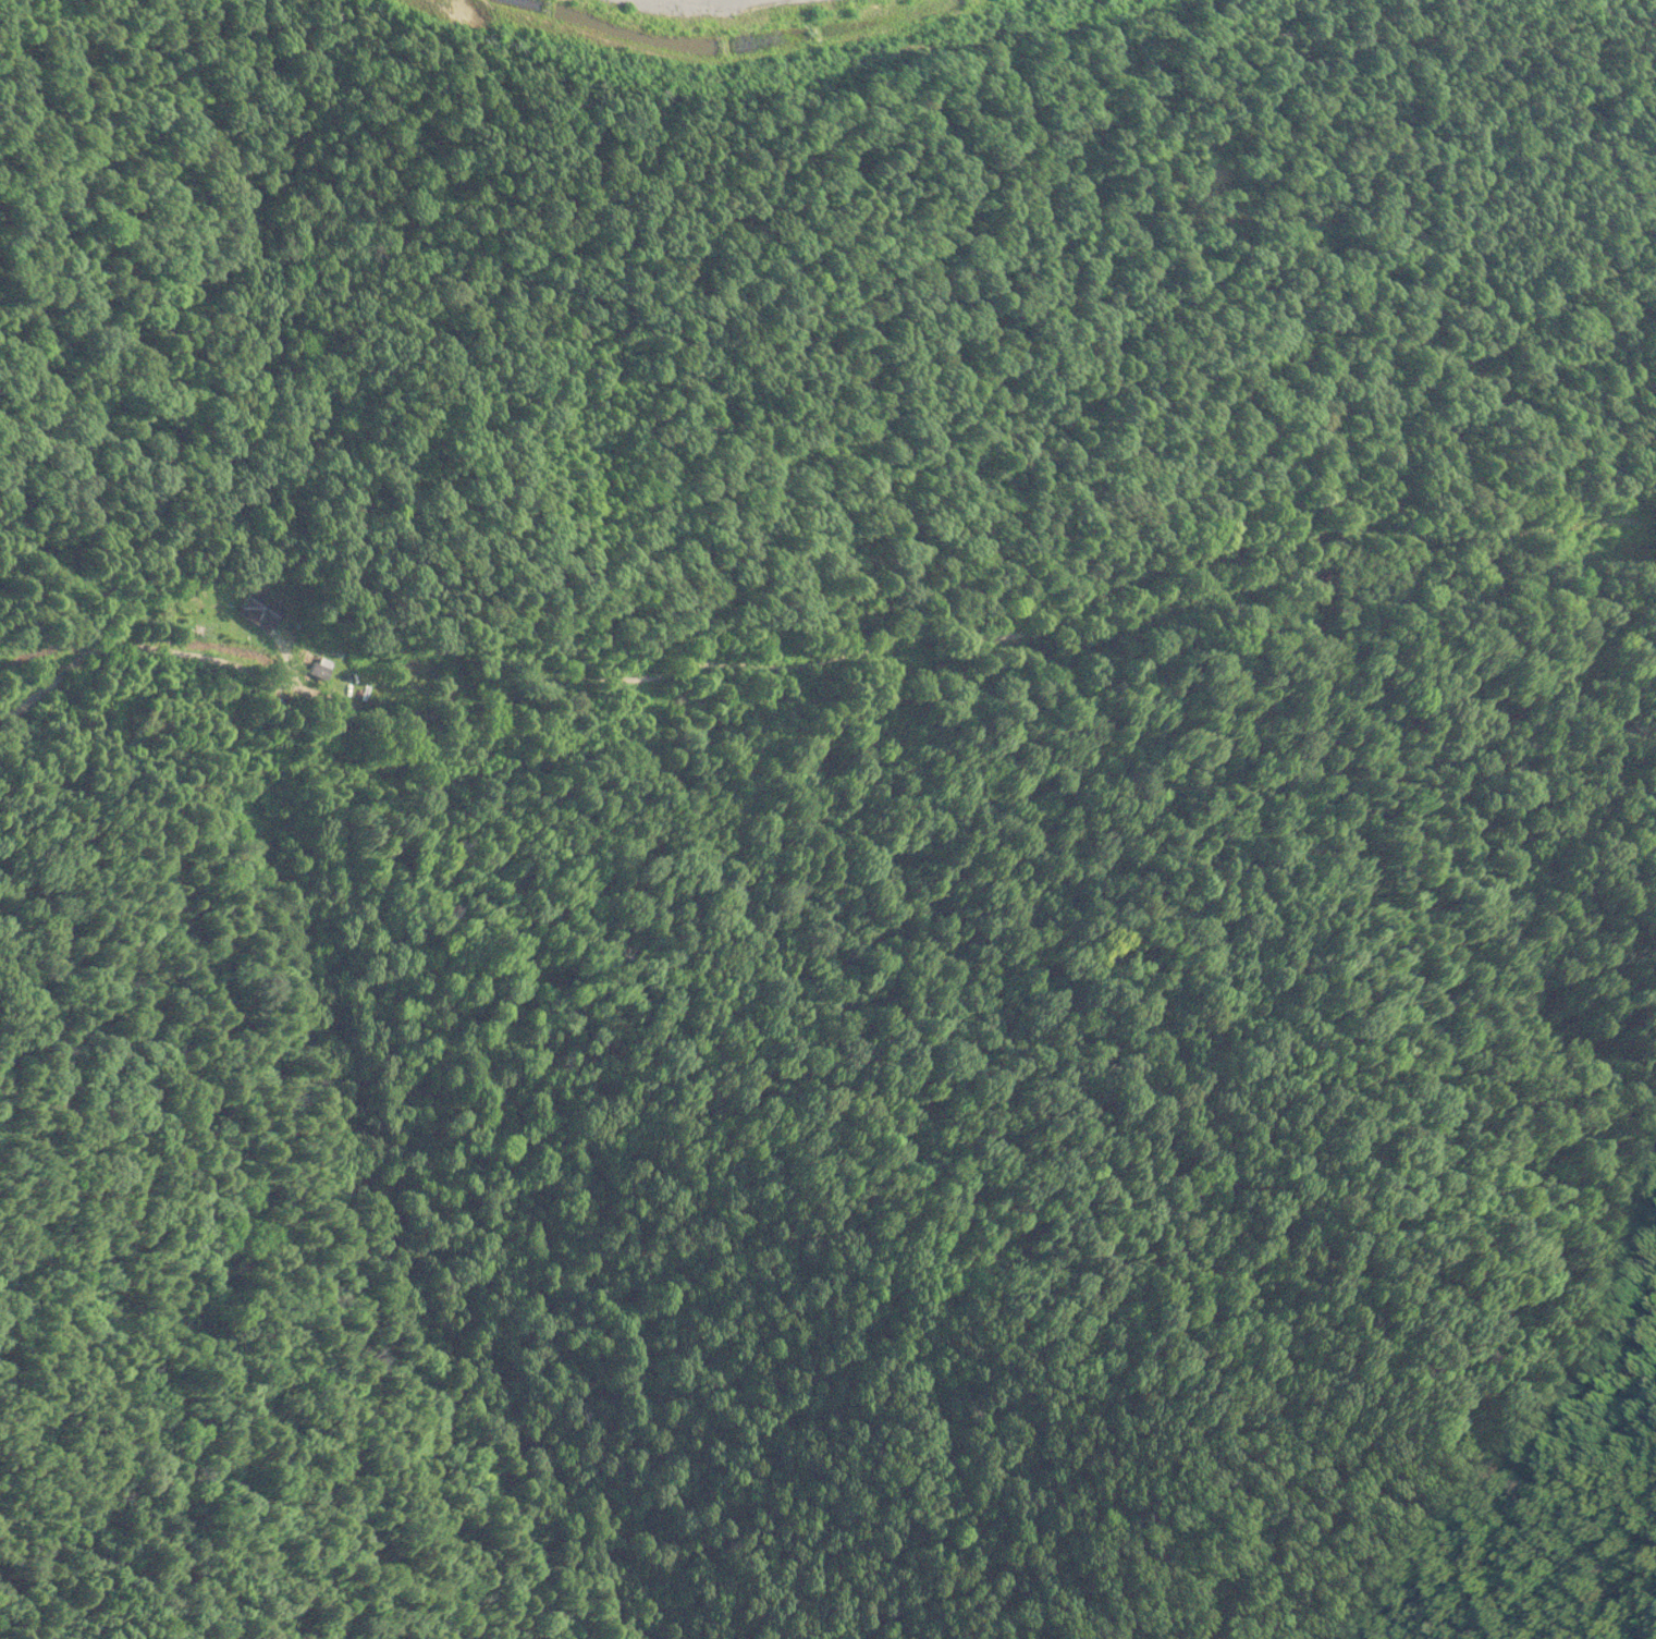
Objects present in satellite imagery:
quarry: (765, 26)
building: (259, 609)
building: (318, 671)

